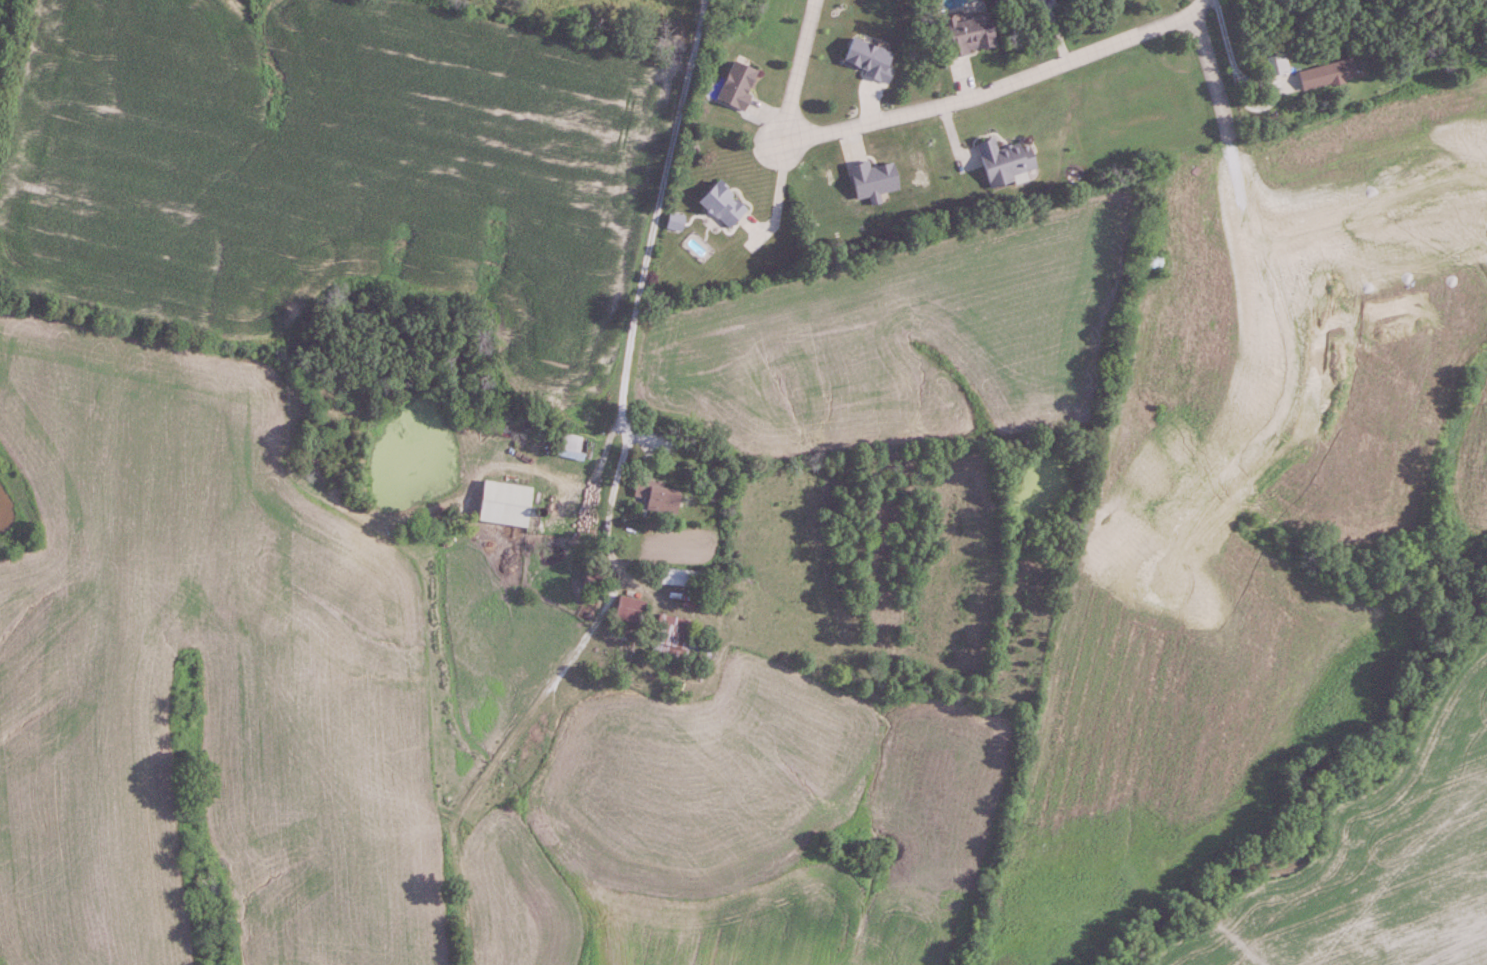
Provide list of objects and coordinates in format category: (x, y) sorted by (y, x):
building: (967, 32)
building: (868, 58)
road: (799, 68)
road: (1215, 71)
building: (1326, 74)
road: (1237, 81)
road: (1257, 82)
building: (737, 83)
road: (1000, 84)
building: (1005, 159)
road: (777, 201)
building: (722, 204)
building: (675, 221)
road: (646, 255)
building: (1155, 262)
building: (570, 446)
building: (655, 496)
building: (504, 503)
road: (604, 511)
building: (682, 577)
building: (629, 609)
building: (677, 641)

